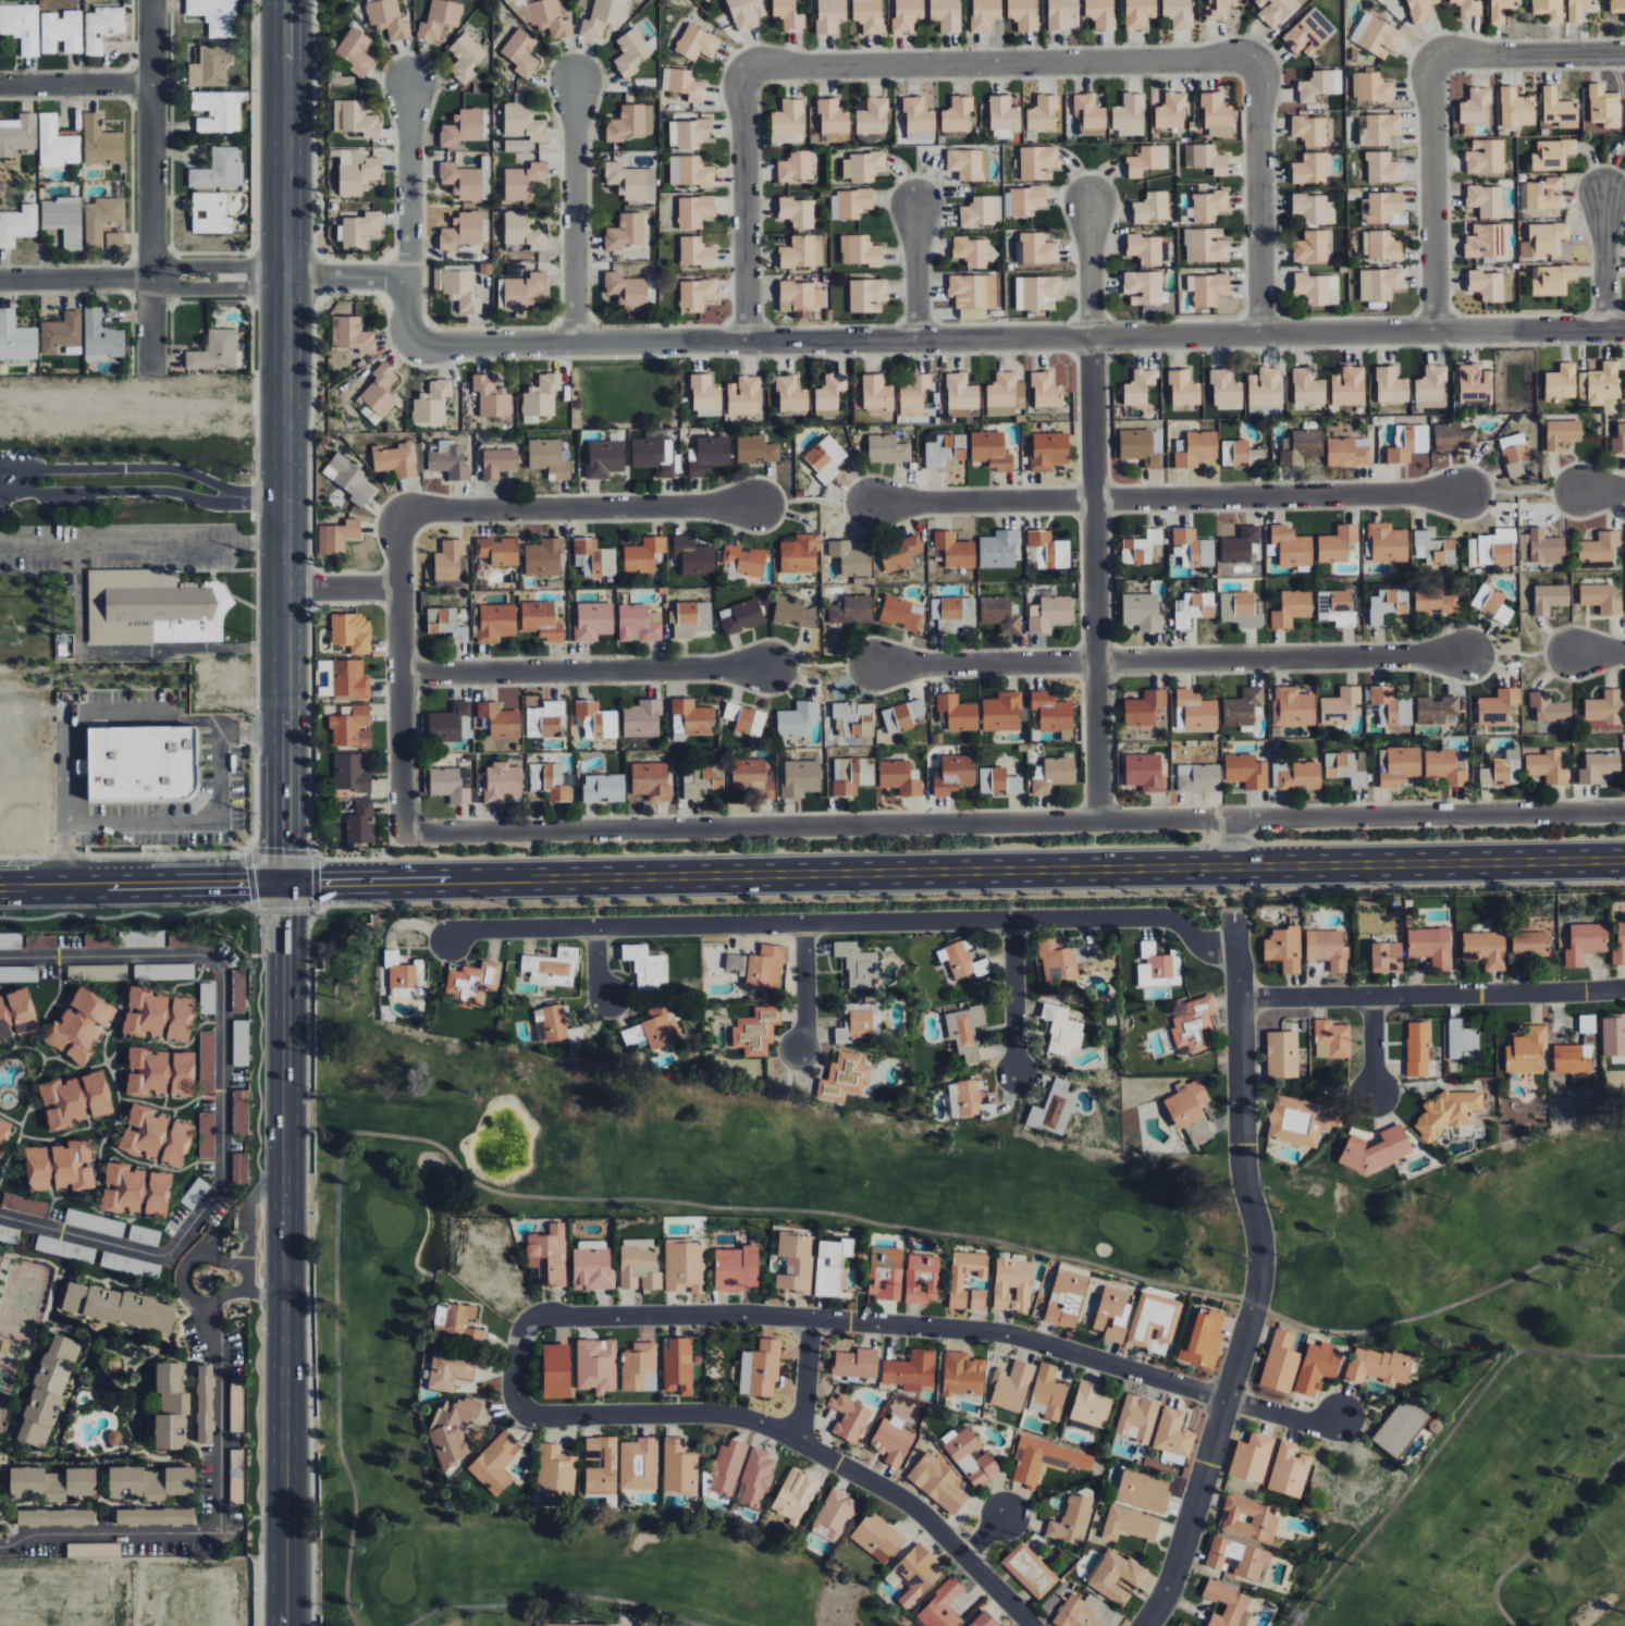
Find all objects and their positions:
building: (1616, 5)
building: (1468, 8)
building: (1579, 9)
building: (1220, 10)
building: (1275, 10)
building: (1420, 10)
building: (1501, 10)
building: (1549, 10)
building: (1178, 12)
building: (746, 13)
building: (1061, 13)
building: (1100, 13)
building: (1138, 13)
building: (788, 14)
building: (907, 14)
building: (946, 14)
building: (984, 14)
building: (1022, 14)
building: (216, 15)
building: (830, 15)
building: (867, 15)
building: (603, 17)
building: (387, 19)
building: (439, 19)
building: (550, 19)
building: (21, 26)
building: (101, 27)
building: (61, 30)
building: (1309, 33)
building: (1377, 36)
building: (697, 42)
building: (355, 51)
road: (1527, 51)
building: (520, 52)
building: (631, 52)
building: (466, 57)
road: (990, 62)
building: (210, 66)
road: (75, 82)
building: (682, 84)
building: (1320, 85)
building: (1371, 88)
building: (1476, 107)
building: (1603, 107)
building: (1516, 108)
building: (1559, 108)
building: (218, 111)
building: (1171, 111)
building: (1043, 113)
building: (918, 114)
building: (957, 114)
building: (1091, 115)
building: (833, 116)
building: (873, 116)
building: (1217, 116)
building: (354, 118)
building: (788, 118)
building: (1004, 118)
building: (630, 122)
building: (461, 127)
building: (1378, 128)
building: (1309, 130)
building: (689, 133)
building: (17, 134)
building: (101, 141)
building: (57, 144)
building: (516, 145)
building: (1552, 155)
building: (1485, 157)
building: (1206, 159)
building: (1144, 161)
building: (1037, 162)
building: (969, 164)
building: (796, 167)
building: (862, 167)
building: (1383, 168)
building: (1310, 169)
building: (219, 170)
building: (357, 172)
building: (690, 172)
building: (522, 180)
building: (630, 181)
road: (150, 182)
road: (1257, 187)
road: (1430, 194)
building: (1546, 194)
building: (1486, 200)
building: (1023, 201)
road: (746, 204)
building: (850, 204)
building: (1210, 206)
building: (1310, 207)
building: (1380, 207)
road: (409, 208)
building: (1152, 208)
road: (576, 211)
building: (694, 211)
building: (982, 211)
building: (798, 212)
building: (209, 213)
building: (101, 219)
building: (63, 220)
building: (17, 225)
building: (359, 230)
building: (524, 231)
building: (460, 232)
building: (625, 232)
building: (114, 238)
building: (1485, 241)
building: (1543, 241)
building: (1206, 245)
building: (1382, 246)
building: (1312, 247)
building: (1036, 249)
building: (1145, 249)
building: (860, 250)
building: (972, 251)
building: (695, 252)
building: (799, 252)
road: (1601, 254)
road: (216, 266)
road: (913, 272)
road: (345, 274)
road: (75, 278)
building: (1551, 280)
building: (1380, 283)
building: (1491, 285)
road: (217, 287)
building: (1143, 287)
building: (461, 288)
building: (1208, 288)
building: (1318, 288)
building: (521, 291)
building: (626, 291)
building: (973, 291)
building: (1041, 292)
building: (695, 295)
building: (801, 295)
building: (867, 295)
building: (61, 333)
building: (352, 334)
road: (1019, 336)
building: (16, 337)
building: (101, 337)
road: (1090, 349)
building: (214, 352)
building: (1561, 382)
building: (1475, 383)
building: (1602, 384)
building: (1391, 385)
building: (1308, 386)
building: (1349, 386)
building: (1138, 387)
building: (1183, 387)
building: (1265, 387)
building: (1431, 387)
building: (1226, 389)
building: (380, 391)
building: (1046, 391)
building: (830, 392)
building: (961, 392)
building: (876, 393)
building: (705, 394)
building: (791, 394)
building: (1004, 394)
building: (541, 395)
building: (913, 395)
building: (491, 396)
building: (744, 396)
building: (432, 402)
building: (959, 412)
road: (283, 424)
building: (1562, 433)
building: (1453, 438)
building: (1618, 440)
building: (1408, 443)
building: (1142, 446)
building: (1301, 446)
building: (1195, 448)
building: (755, 449)
building: (887, 449)
building: (945, 451)
building: (990, 451)
building: (1048, 451)
building: (1347, 452)
building: (1240, 454)
building: (1514, 454)
building: (653, 455)
building: (709, 455)
building: (549, 458)
building: (604, 458)
building: (825, 458)
building: (396, 459)
building: (448, 460)
building: (497, 463)
road: (144, 467)
building: (350, 480)
road: (1604, 488)
road: (143, 490)
road: (1280, 495)
road: (978, 498)
road: (580, 512)
building: (336, 537)
building: (1187, 542)
building: (1388, 543)
road: (141, 544)
building: (1337, 544)
building: (1240, 545)
building: (1144, 546)
building: (1497, 547)
building: (1546, 547)
building: (1599, 547)
building: (1293, 549)
building: (998, 550)
building: (1050, 550)
building: (1433, 550)
building: (498, 551)
building: (955, 551)
building: (899, 553)
building: (642, 554)
building: (799, 554)
building: (693, 556)
building: (543, 557)
building: (594, 558)
building: (850, 558)
building: (744, 561)
building: (450, 563)
road: (343, 590)
building: (1550, 598)
building: (1601, 599)
building: (1433, 601)
building: (1388, 604)
building: (1491, 604)
building: (1337, 607)
building: (148, 608)
building: (1193, 608)
building: (1292, 608)
building: (851, 609)
building: (1240, 609)
building: (792, 612)
building: (1142, 612)
building: (902, 613)
building: (1000, 614)
building: (1049, 614)
building: (741, 617)
building: (690, 618)
building: (541, 620)
building: (593, 620)
building: (495, 623)
building: (445, 624)
building: (637, 624)
building: (350, 632)
road: (1598, 649)
road: (127, 653)
road: (1280, 657)
road: (1097, 658)
road: (984, 660)
road: (582, 668)
road: (402, 669)
building: (349, 680)
building: (1384, 704)
building: (1340, 706)
building: (1498, 706)
building: (1242, 707)
building: (1293, 707)
building: (1549, 707)
building: (1144, 709)
building: (1437, 710)
building: (1197, 711)
building: (1603, 711)
building: (1001, 712)
building: (1051, 712)
building: (958, 713)
building: (902, 716)
building: (693, 717)
building: (642, 718)
building: (854, 718)
building: (500, 719)
building: (544, 719)
building: (796, 719)
building: (596, 720)
building: (750, 722)
building: (451, 723)
building: (350, 728)
building: (139, 763)
building: (1399, 765)
building: (1347, 766)
building: (1548, 767)
building: (1599, 767)
building: (1444, 768)
building: (1144, 772)
building: (1246, 772)
building: (350, 773)
building: (955, 774)
building: (848, 775)
building: (1297, 775)
building: (1051, 776)
building: (751, 777)
building: (800, 778)
building: (899, 778)
building: (1198, 778)
building: (549, 781)
building: (700, 781)
building: (998, 781)
building: (502, 783)
building: (650, 783)
building: (448, 786)
building: (603, 788)
road: (1015, 821)
building: (359, 823)
road: (1233, 842)
traffic signals: (287, 850)
road: (286, 867)
road: (956, 872)
traffic signals: (320, 884)
traffic signals: (248, 885)
road: (143, 886)
road: (285, 900)
traffic signals: (285, 916)
road: (847, 923)
building: (10, 940)
building: (136, 940)
building: (44, 941)
building: (1585, 943)
building: (1530, 944)
building: (1620, 946)
building: (1430, 947)
building: (1284, 949)
building: (1328, 949)
building: (1485, 949)
building: (1386, 958)
building: (1057, 960)
building: (962, 961)
building: (858, 963)
building: (736, 964)
building: (551, 965)
building: (1153, 965)
road: (598, 966)
building: (645, 968)
building: (765, 968)
building: (97, 972)
building: (399, 975)
building: (471, 983)
road: (805, 987)
building: (238, 991)
road: (1432, 995)
road: (1015, 997)
building: (207, 998)
building: (15, 1014)
building: (157, 1015)
building: (555, 1025)
building: (78, 1026)
building: (855, 1026)
building: (1195, 1026)
building: (656, 1027)
building: (756, 1031)
building: (965, 1031)
building: (1061, 1031)
building: (1614, 1035)
building: (1462, 1038)
building: (1331, 1039)
road: (1374, 1047)
building: (1417, 1049)
building: (1527, 1051)
building: (1282, 1055)
building: (1569, 1060)
building: (207, 1061)
building: (146, 1072)
building: (181, 1074)
building: (844, 1077)
road: (221, 1093)
building: (96, 1094)
building: (967, 1098)
building: (62, 1103)
building: (1050, 1107)
building: (988, 1110)
building: (1190, 1110)
building: (239, 1112)
building: (1449, 1112)
building: (1301, 1121)
building: (3, 1132)
building: (143, 1133)
building: (206, 1135)
fountain: (497, 1141)
building: (175, 1144)
building: (1376, 1150)
building: (59, 1168)
building: (239, 1169)
building: (122, 1190)
building: (156, 1194)
road: (545, 1197)
building: (24, 1206)
building: (9, 1235)
building: (795, 1264)
building: (591, 1266)
building: (685, 1267)
building: (829, 1268)
building: (736, 1269)
road: (285, 1271)
building: (885, 1273)
park: (1364, 1273)
building: (921, 1279)
road: (1259, 1279)
building: (956, 1284)
building: (1012, 1285)
road: (238, 1292)
building: (1066, 1297)
building: (977, 1299)
park: (23, 1302)
building: (118, 1308)
road: (1444, 1308)
building: (1112, 1315)
building: (1154, 1320)
road: (885, 1323)
building: (458, 1326)
building: (1202, 1340)
building: (3, 1346)
building: (1280, 1362)
building: (855, 1363)
road: (517, 1365)
building: (596, 1365)
building: (678, 1366)
building: (1377, 1366)
building: (639, 1367)
building: (1317, 1367)
building: (448, 1369)
building: (760, 1369)
building: (555, 1370)
building: (911, 1370)
building: (962, 1375)
road: (807, 1380)
park: (2, 1382)
building: (1011, 1385)
building: (46, 1392)
building: (1047, 1392)
building: (204, 1405)
building: (236, 1405)
building: (1090, 1405)
building: (169, 1408)
building: (1137, 1417)
road: (1284, 1417)
building: (849, 1418)
building: (1400, 1426)
building: (451, 1430)
building: (1173, 1432)
building: (892, 1439)
road: (805, 1445)
road: (1440, 1448)
road: (218, 1454)
building: (970, 1455)
building: (1252, 1456)
building: (1045, 1459)
building: (495, 1462)
building: (639, 1463)
building: (236, 1465)
building: (602, 1465)
building: (679, 1466)
building: (727, 1466)
building: (1289, 1469)
building: (555, 1470)
building: (755, 1478)
building: (937, 1482)
building: (50, 1483)
building: (148, 1483)
building: (1143, 1490)
building: (795, 1494)
building: (236, 1496)
building: (834, 1513)
building: (53, 1518)
building: (152, 1518)
building: (1249, 1518)
building: (1071, 1520)
building: (1129, 1524)
building: (877, 1537)
road: (984, 1538)
road: (1549, 1539)
building: (94, 1549)
building: (1238, 1556)
building: (1030, 1569)
building: (916, 1573)
building: (1116, 1576)
road: (555, 1598)
building: (1228, 1604)
building: (941, 1605)
building: (1085, 1613)
building: (984, 1619)
building: (564, 1625)
building: (1184, 1625)

